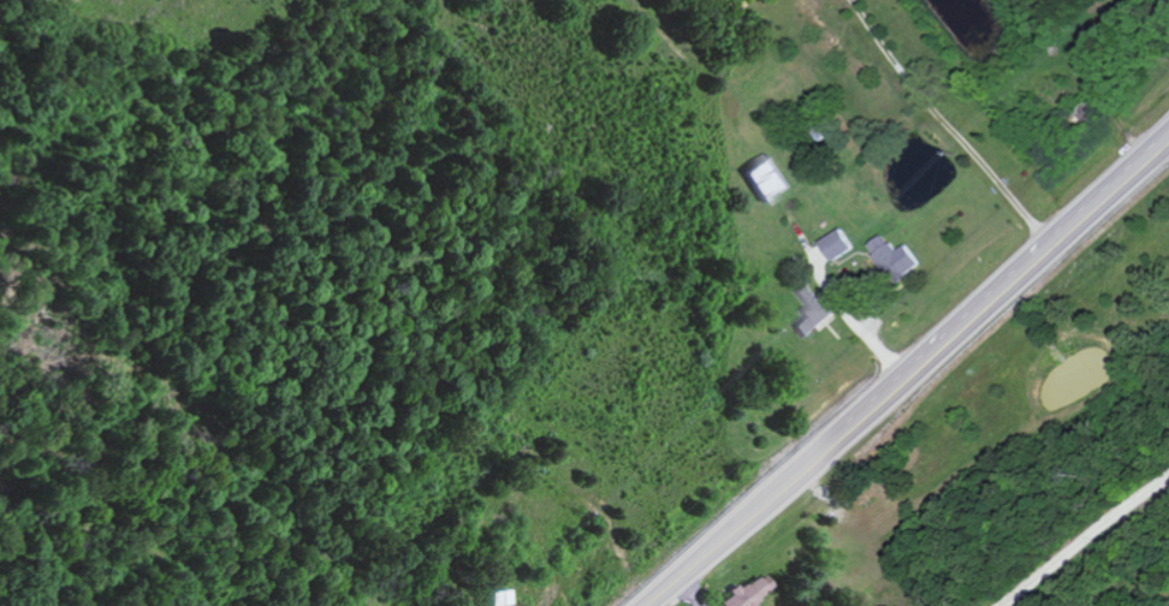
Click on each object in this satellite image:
building: (769, 180)
building: (838, 246)
building: (894, 259)
building: (813, 313)
road: (912, 379)
road: (968, 456)
building: (749, 592)

